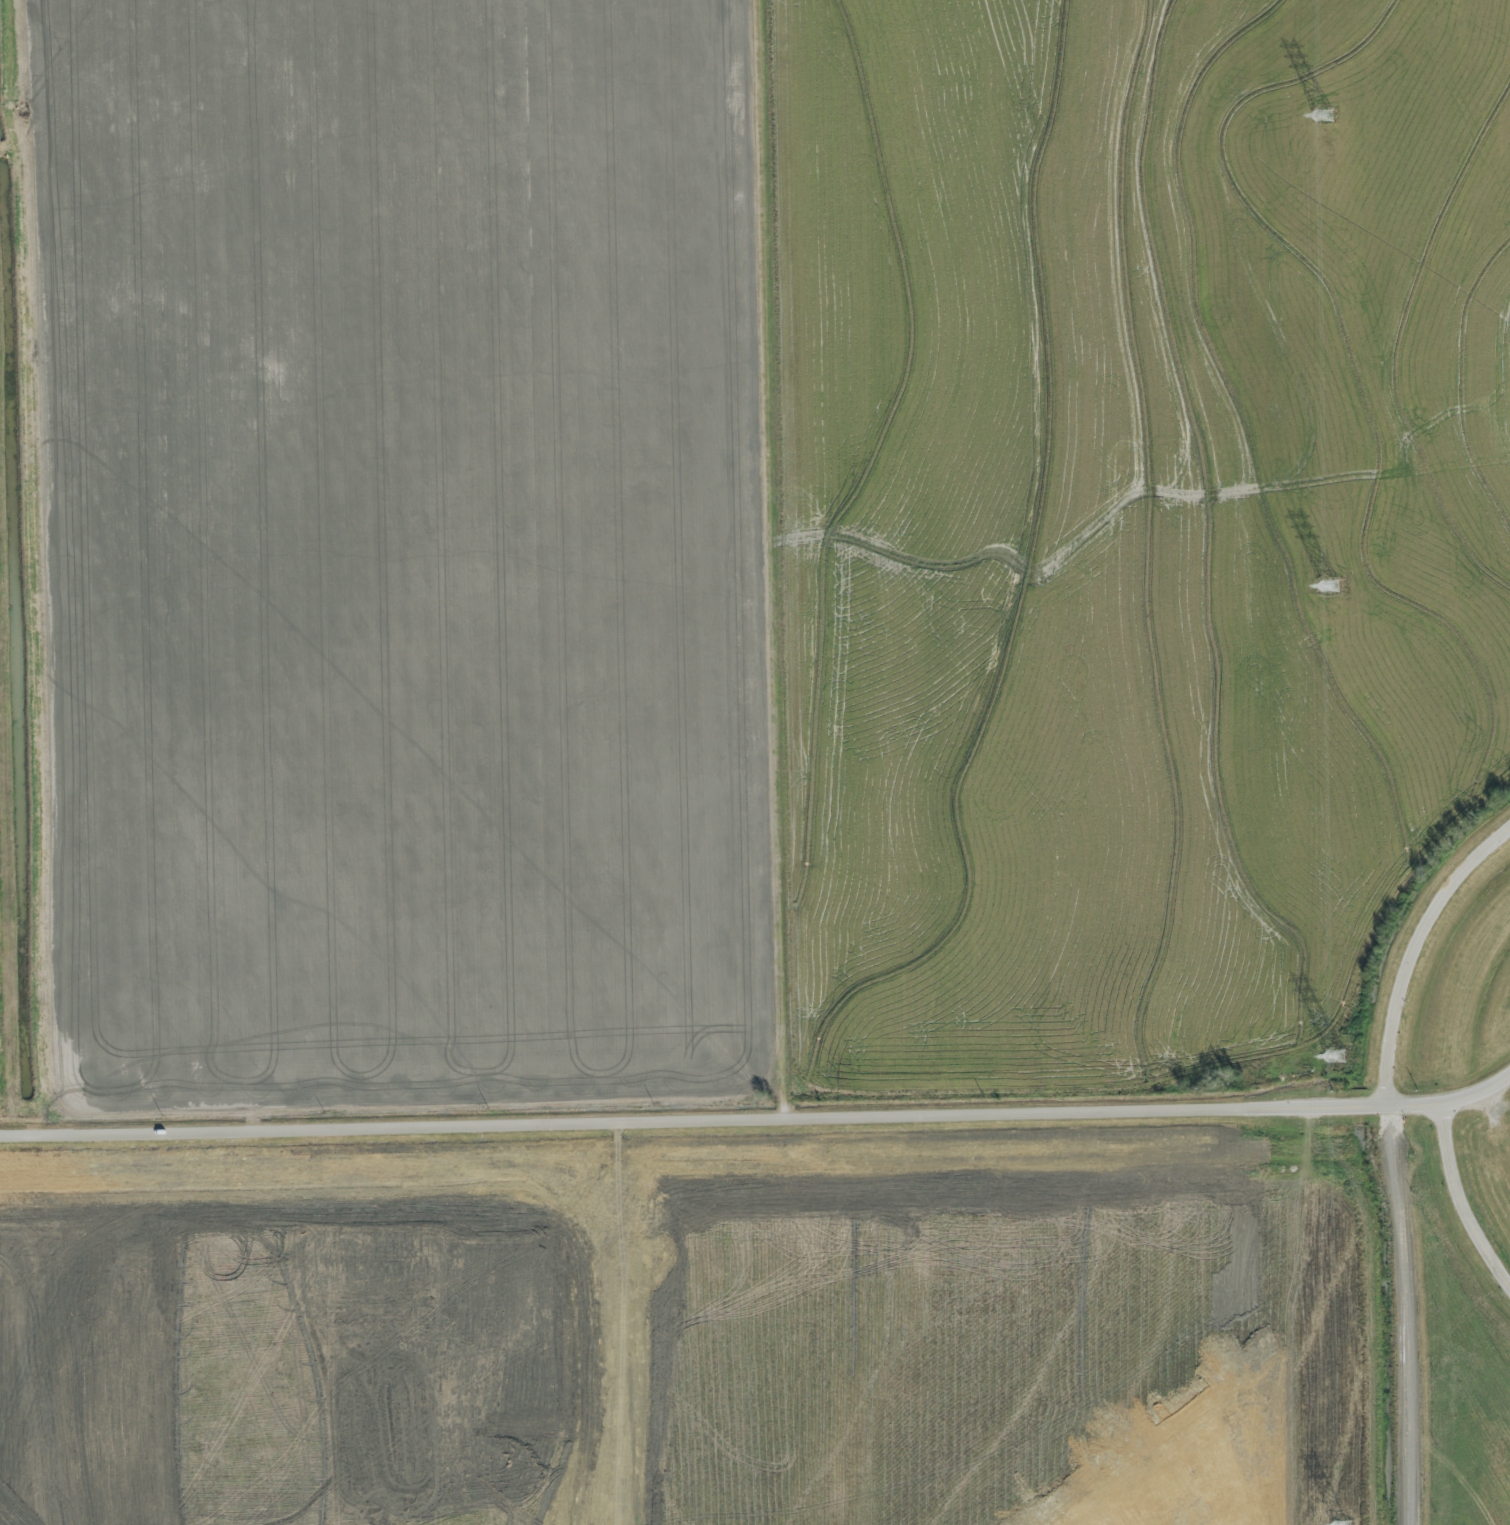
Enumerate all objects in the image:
power tower: (1323, 115)
power tower: (1329, 586)
road: (1082, 837)
road: (1416, 954)
power tower: (1337, 1057)
road: (757, 1117)
road: (1458, 1202)

